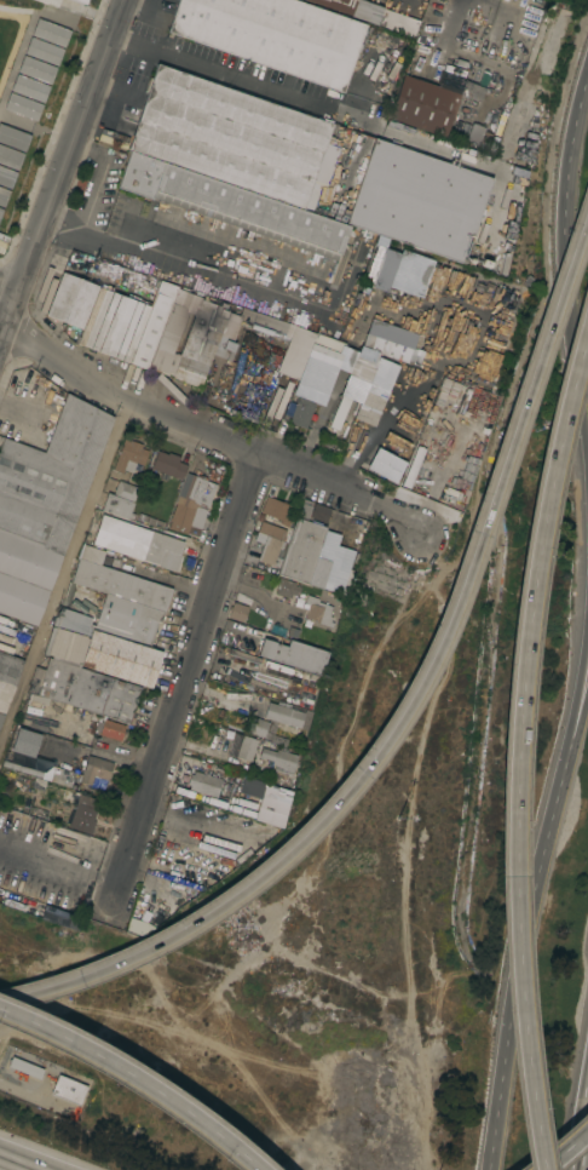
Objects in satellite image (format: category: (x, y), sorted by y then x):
building: (79, 1)
building: (48, 2)
building: (359, 10)
building: (430, 24)
building: (276, 35)
building: (399, 55)
building: (35, 69)
road: (286, 97)
building: (431, 101)
building: (474, 134)
building: (231, 137)
building: (13, 138)
building: (10, 157)
road: (62, 167)
building: (5, 183)
road: (566, 187)
building: (419, 200)
building: (234, 206)
building: (0, 211)
road: (73, 224)
road: (190, 257)
building: (491, 269)
building: (397, 271)
road: (7, 289)
building: (71, 300)
building: (180, 316)
building: (230, 321)
building: (126, 325)
building: (197, 337)
building: (391, 343)
building: (306, 382)
building: (362, 388)
road: (580, 398)
building: (260, 403)
building: (414, 408)
building: (301, 413)
road: (211, 432)
building: (129, 455)
building: (168, 464)
building: (385, 465)
building: (51, 476)
building: (198, 493)
building: (121, 500)
building: (276, 510)
building: (178, 518)
building: (270, 541)
building: (304, 541)
building: (138, 543)
road: (65, 572)
building: (325, 575)
building: (25, 578)
building: (116, 580)
building: (286, 587)
building: (237, 612)
building: (318, 612)
building: (127, 620)
building: (105, 654)
building: (294, 654)
road: (242, 670)
building: (7, 677)
road: (185, 677)
building: (88, 690)
road: (573, 698)
road: (408, 704)
building: (284, 715)
building: (1, 717)
building: (256, 725)
building: (111, 730)
building: (24, 742)
road: (513, 744)
road: (572, 746)
building: (242, 747)
road: (219, 756)
building: (281, 759)
building: (96, 769)
building: (62, 776)
building: (207, 781)
building: (250, 787)
building: (83, 815)
road: (518, 985)
building: (24, 1067)
road: (133, 1079)
building: (69, 1090)
road: (563, 1148)
road: (584, 1153)
road: (10, 1165)

